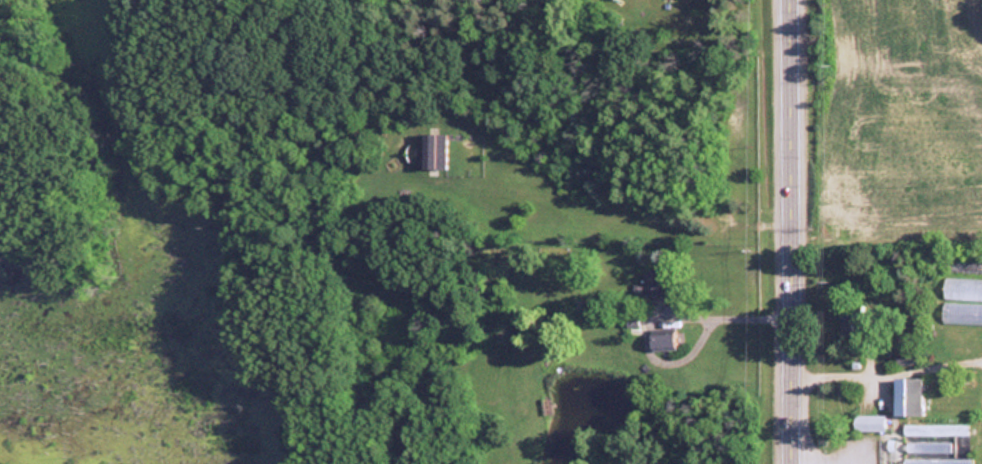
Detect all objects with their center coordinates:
building: (431, 151)
road: (796, 232)
building: (651, 284)
building: (962, 289)
building: (961, 314)
road: (724, 315)
building: (850, 322)
building: (661, 341)
road: (889, 372)
building: (907, 397)
building: (868, 423)
building: (935, 460)
road: (828, 461)

